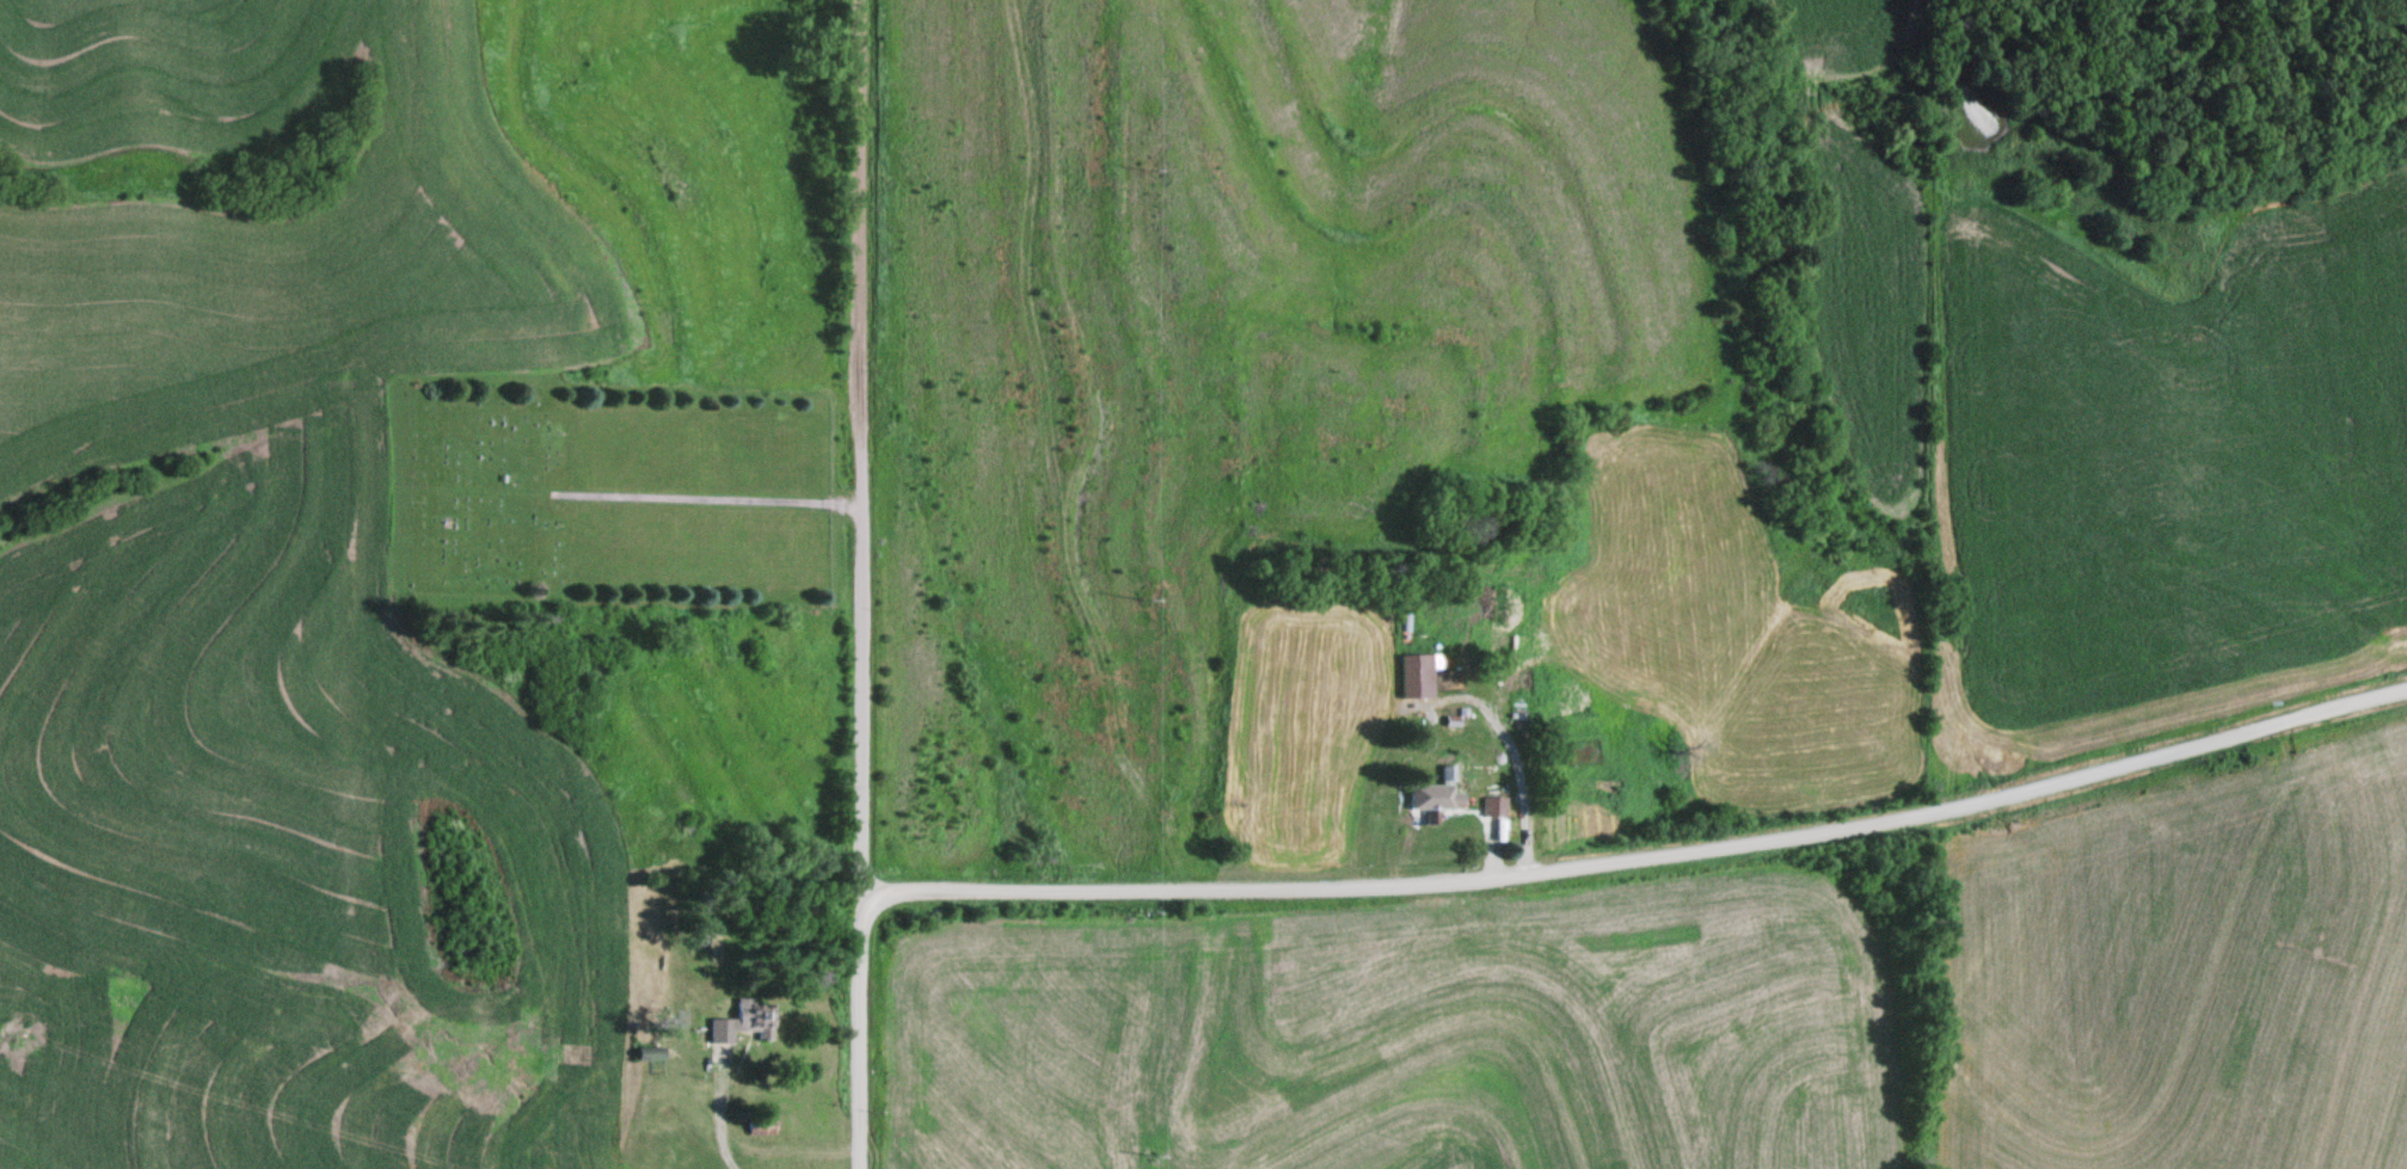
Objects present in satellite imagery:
park: (622, 491)
road: (861, 587)
building: (1644, 720)
building: (1448, 774)
building: (1496, 805)
road: (1653, 866)
building: (730, 1027)

